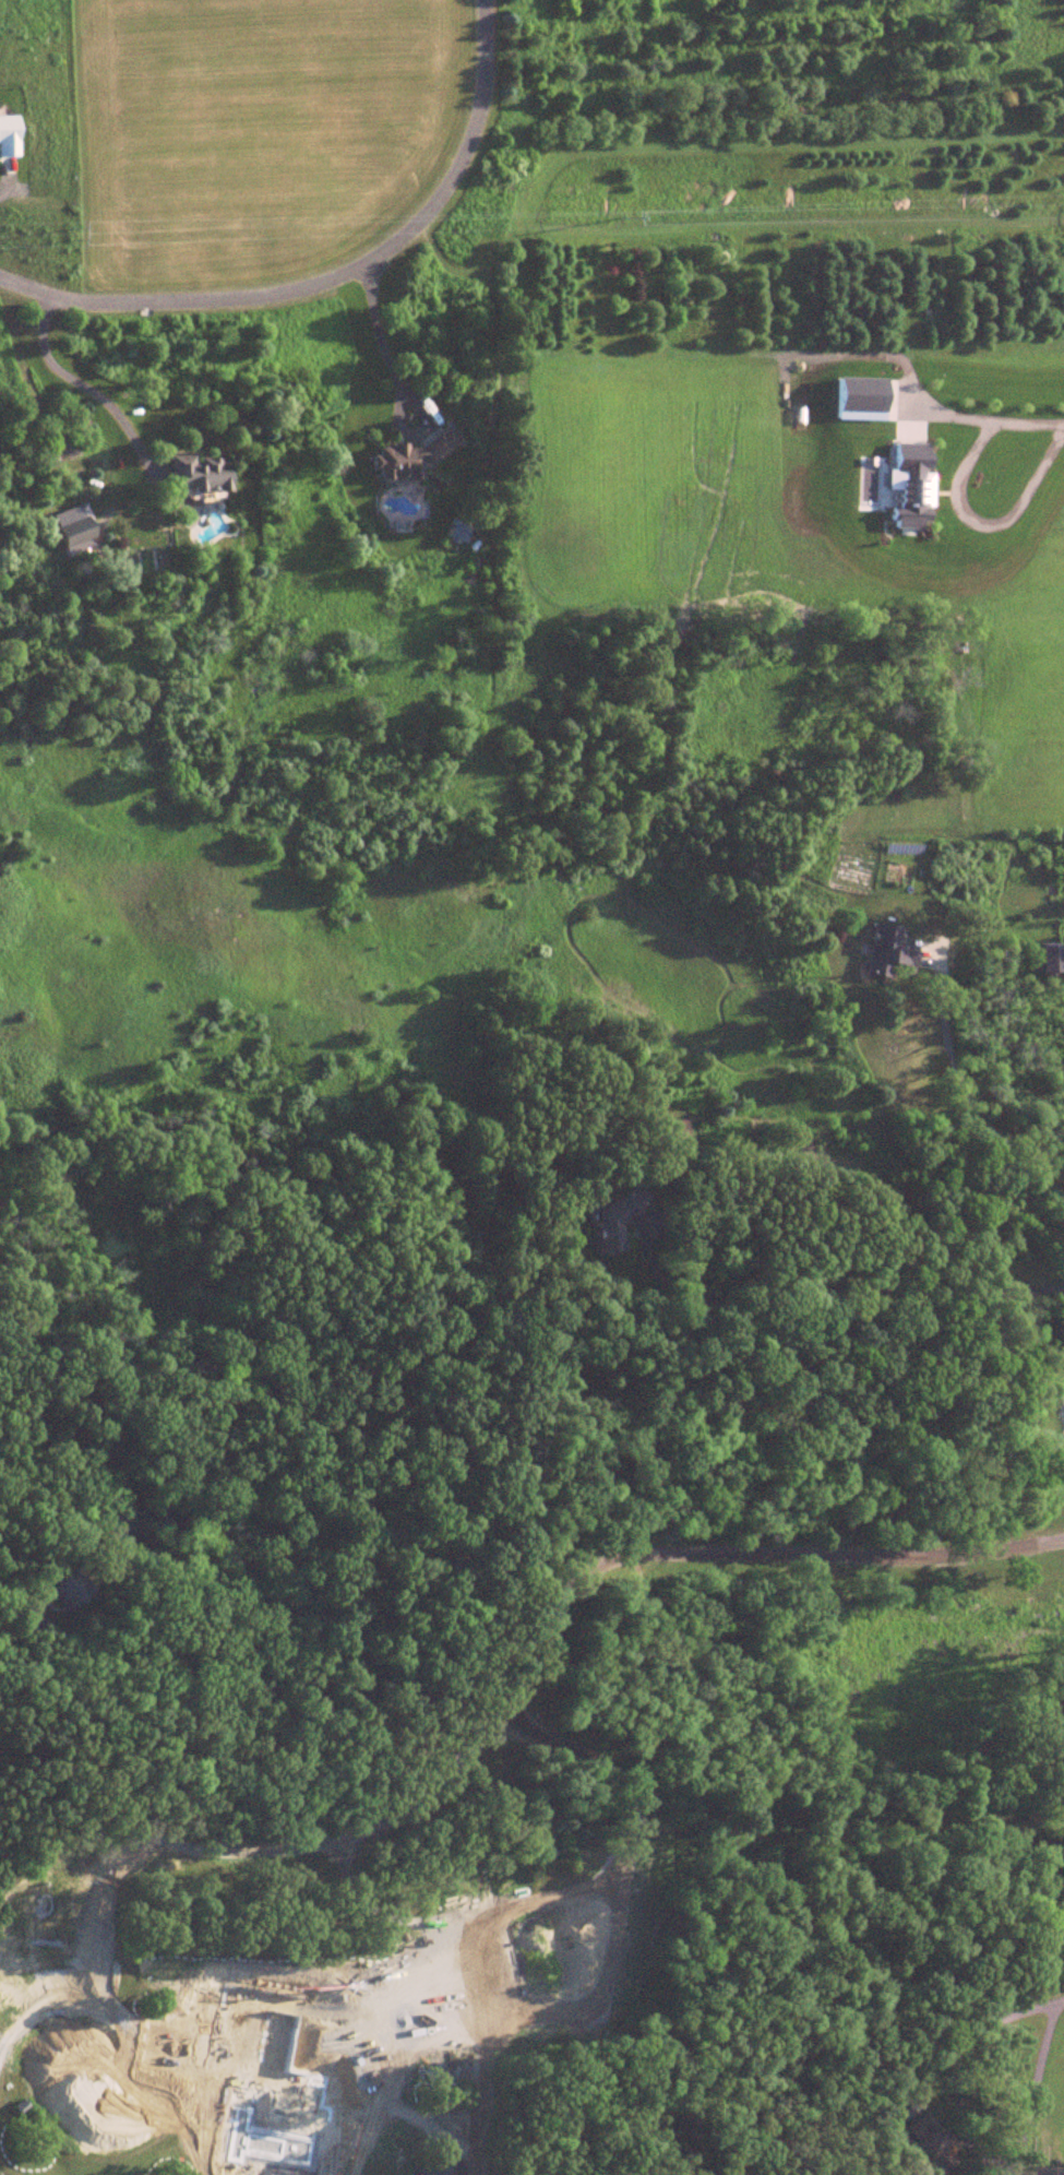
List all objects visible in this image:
road: (333, 277)
road: (381, 340)
road: (88, 388)
road: (990, 427)
building: (410, 457)
building: (196, 473)
building: (72, 526)
road: (988, 532)
building: (899, 849)
building: (887, 951)
building: (1052, 959)
road: (989, 1115)
building: (611, 1222)
road: (841, 1288)
building: (70, 1592)
road: (84, 1715)
road: (349, 1820)
building: (498, 1964)
road: (43, 1985)
road: (299, 1998)
road: (1059, 1998)
building: (929, 2142)
road: (967, 2143)
building: (437, 2167)
building: (1045, 2171)

